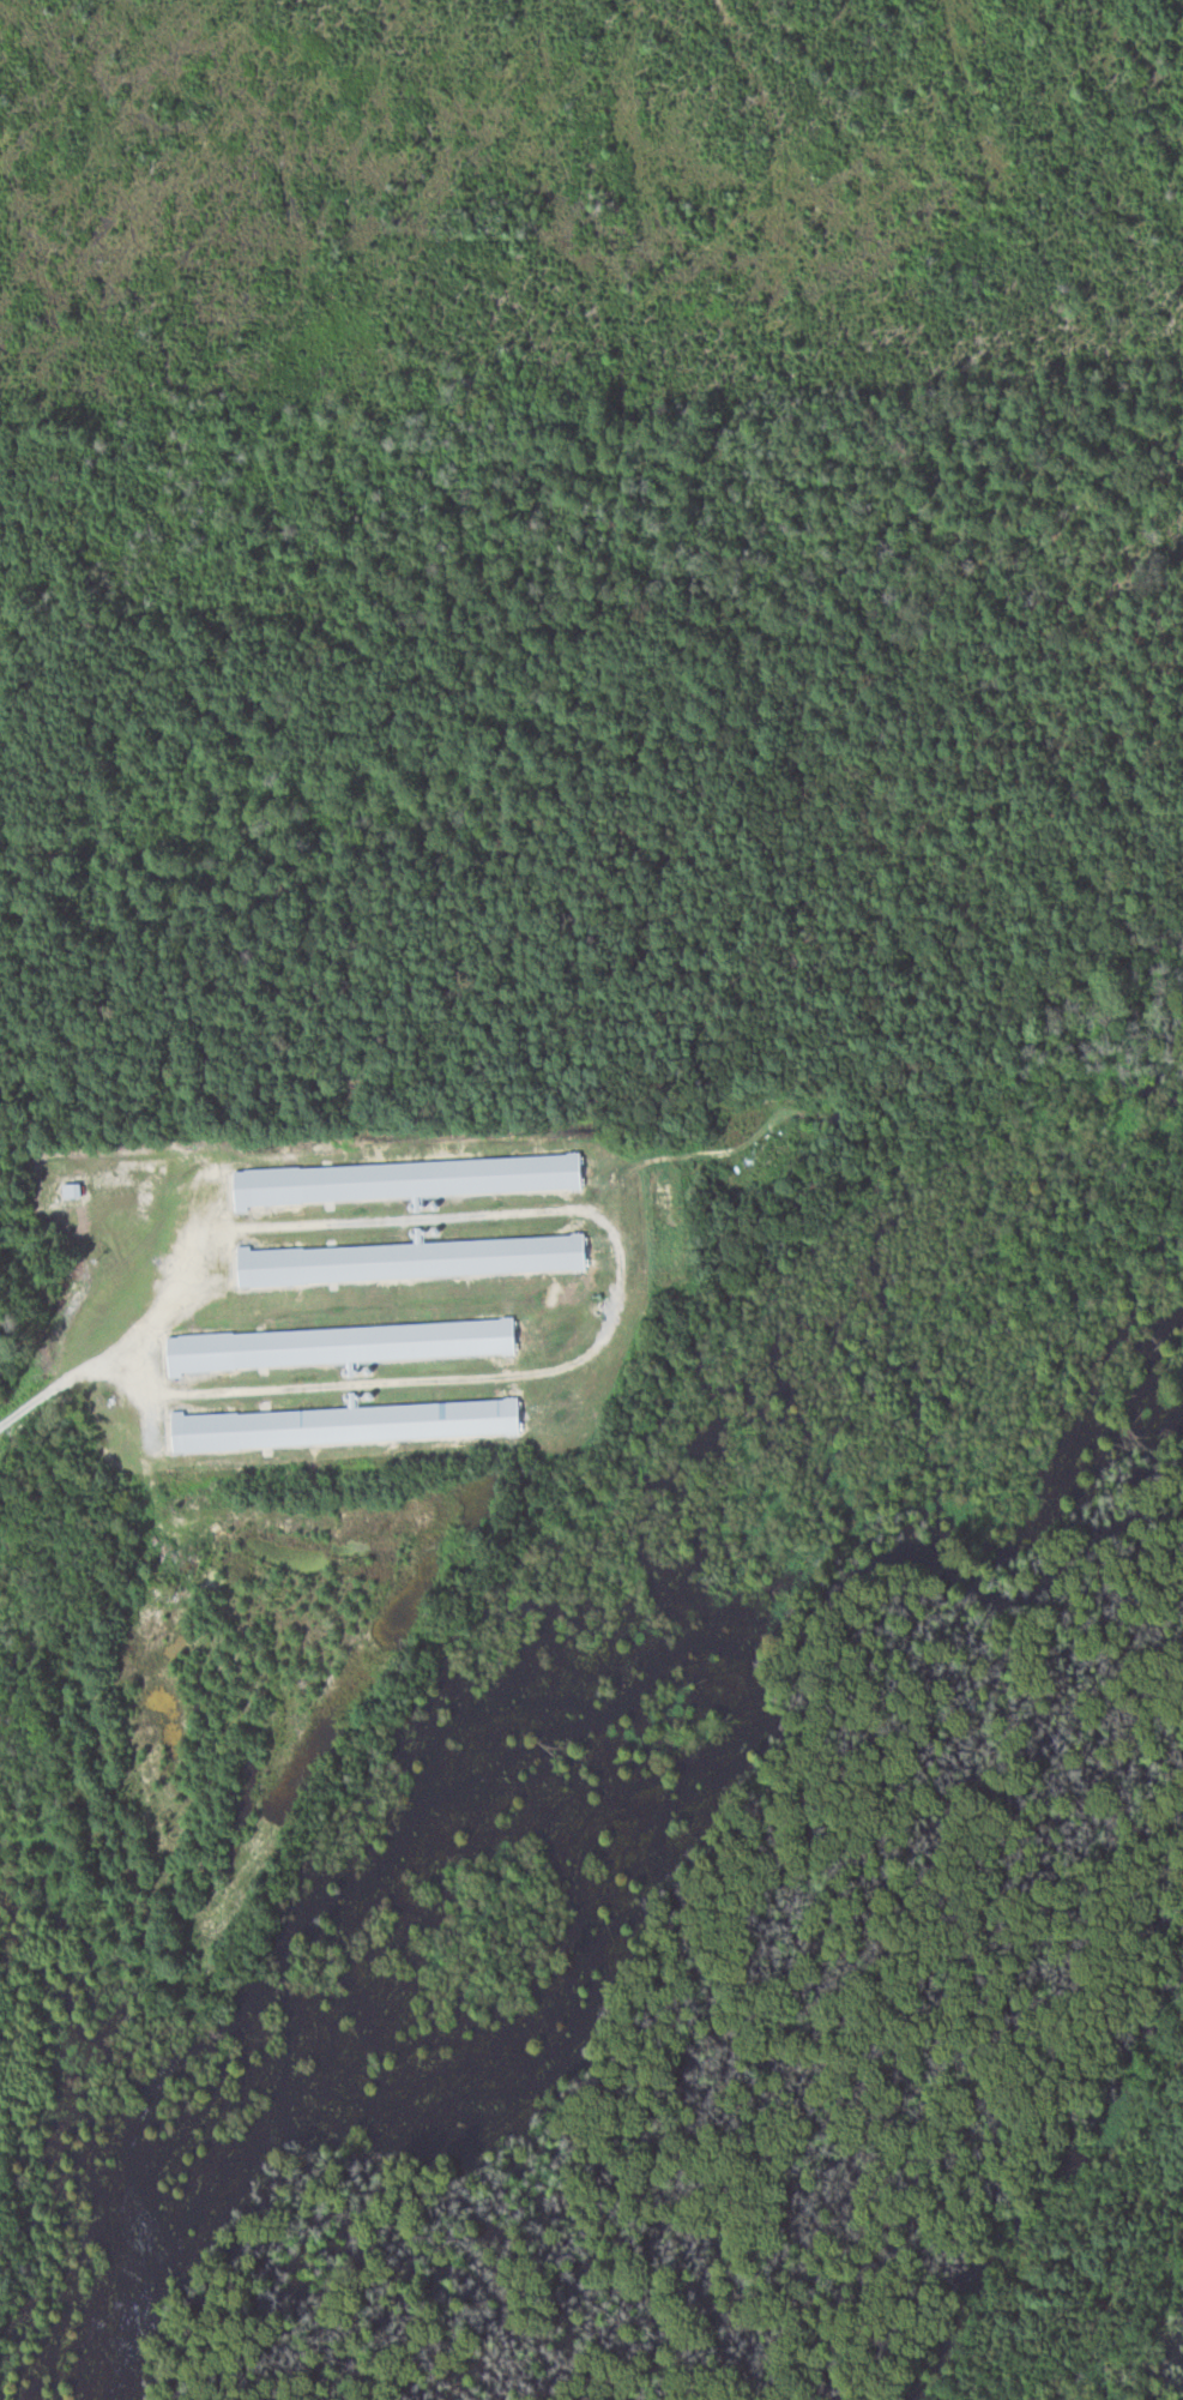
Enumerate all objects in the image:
building: (404, 1179)
building: (71, 1190)
building: (409, 1259)
building: (339, 1345)
building: (343, 1425)
river: (985, 2130)

